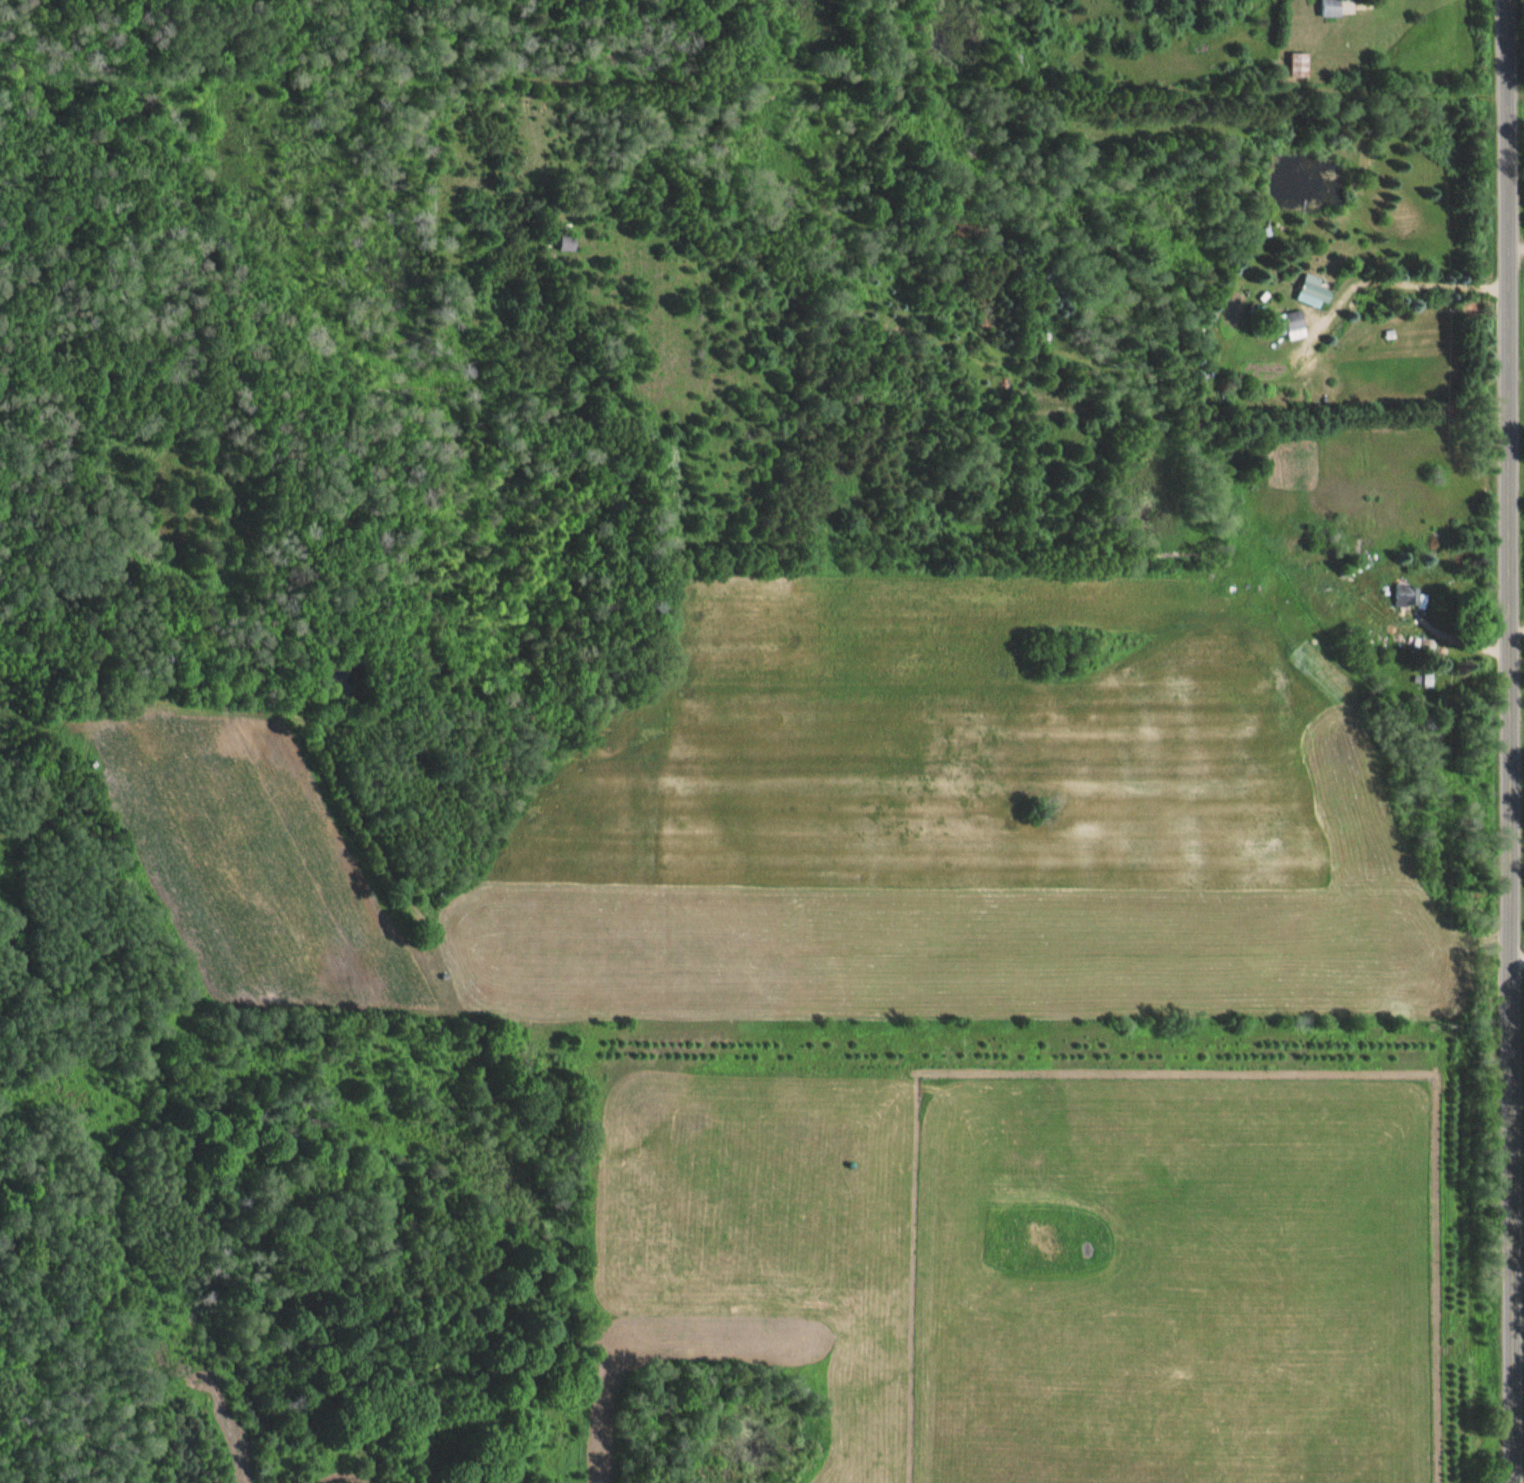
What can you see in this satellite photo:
building: (1326, 8)
building: (1301, 62)
building: (570, 240)
road: (1515, 269)
building: (1317, 287)
building: (1295, 318)
building: (1404, 595)
building: (1426, 679)
road: (1509, 741)
road: (1517, 965)
road: (1405, 1427)

